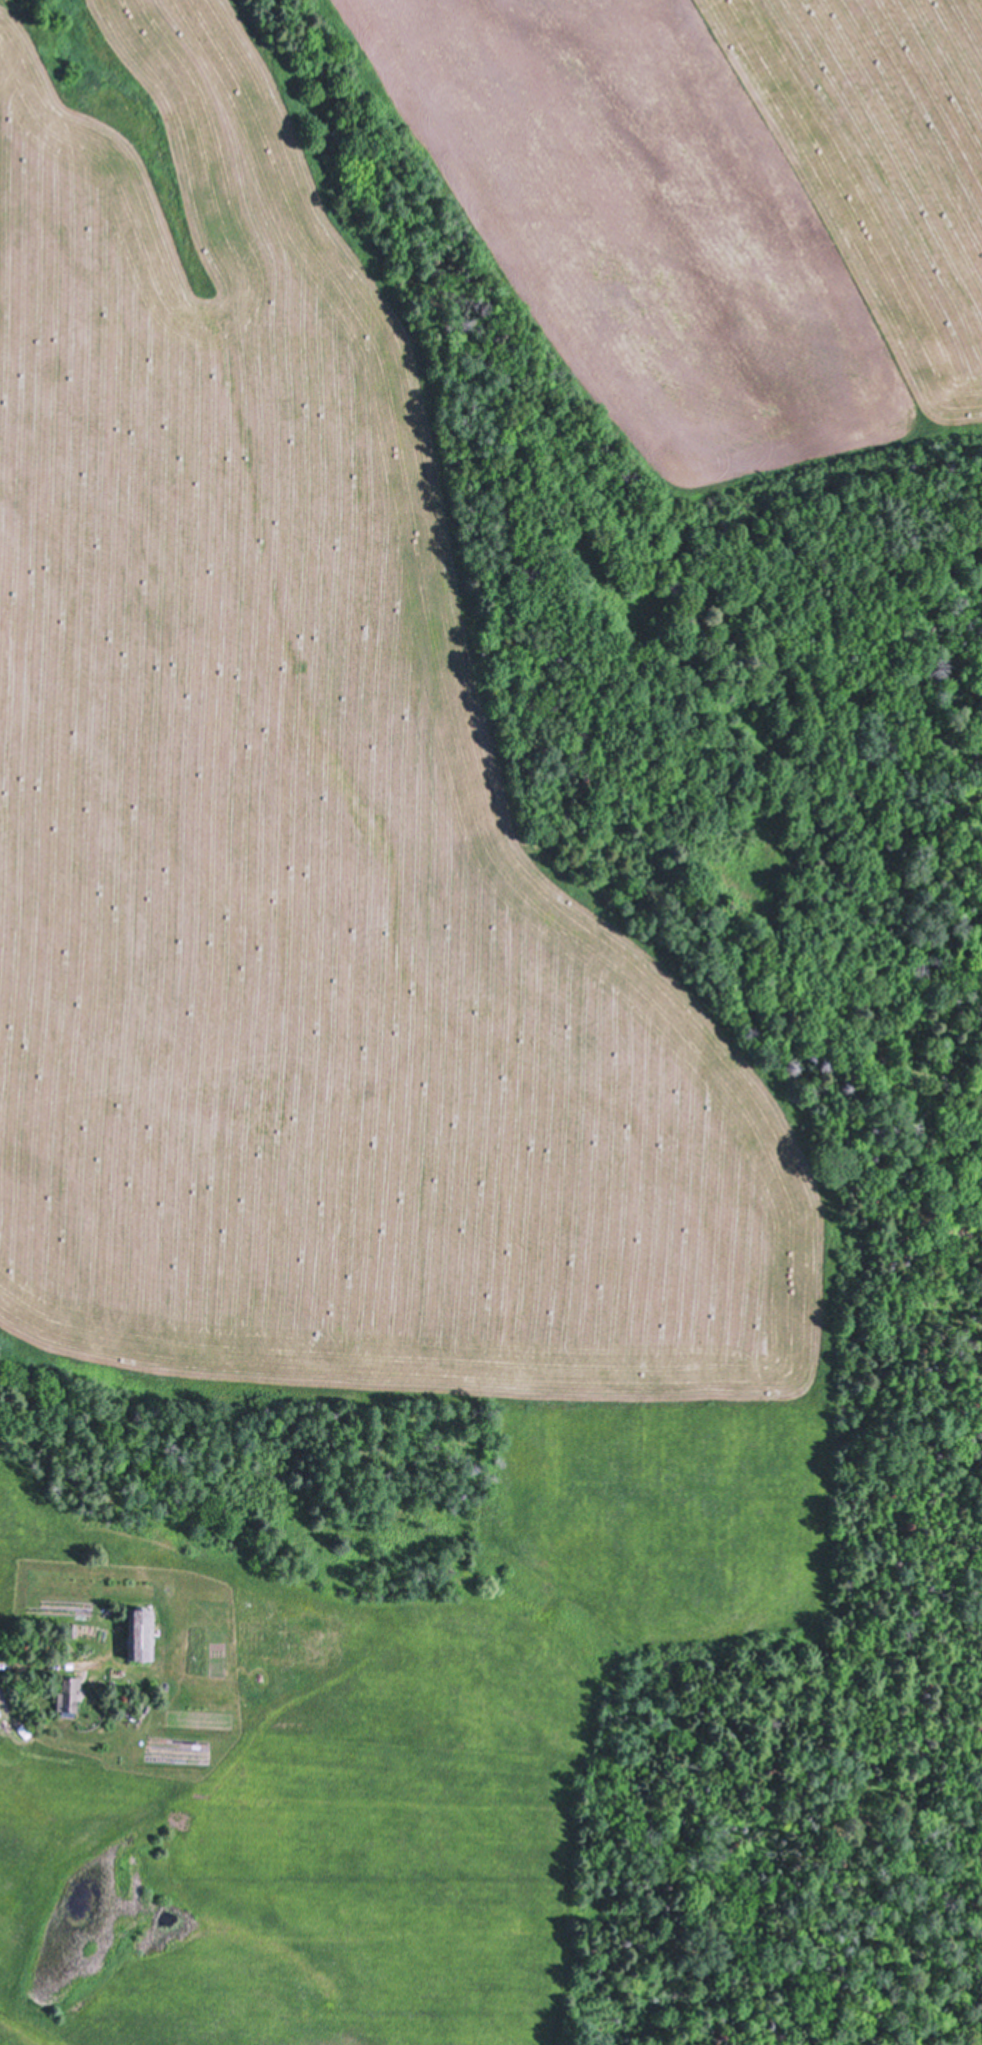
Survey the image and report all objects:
building: (143, 1636)
road: (27, 1665)
building: (70, 1698)

